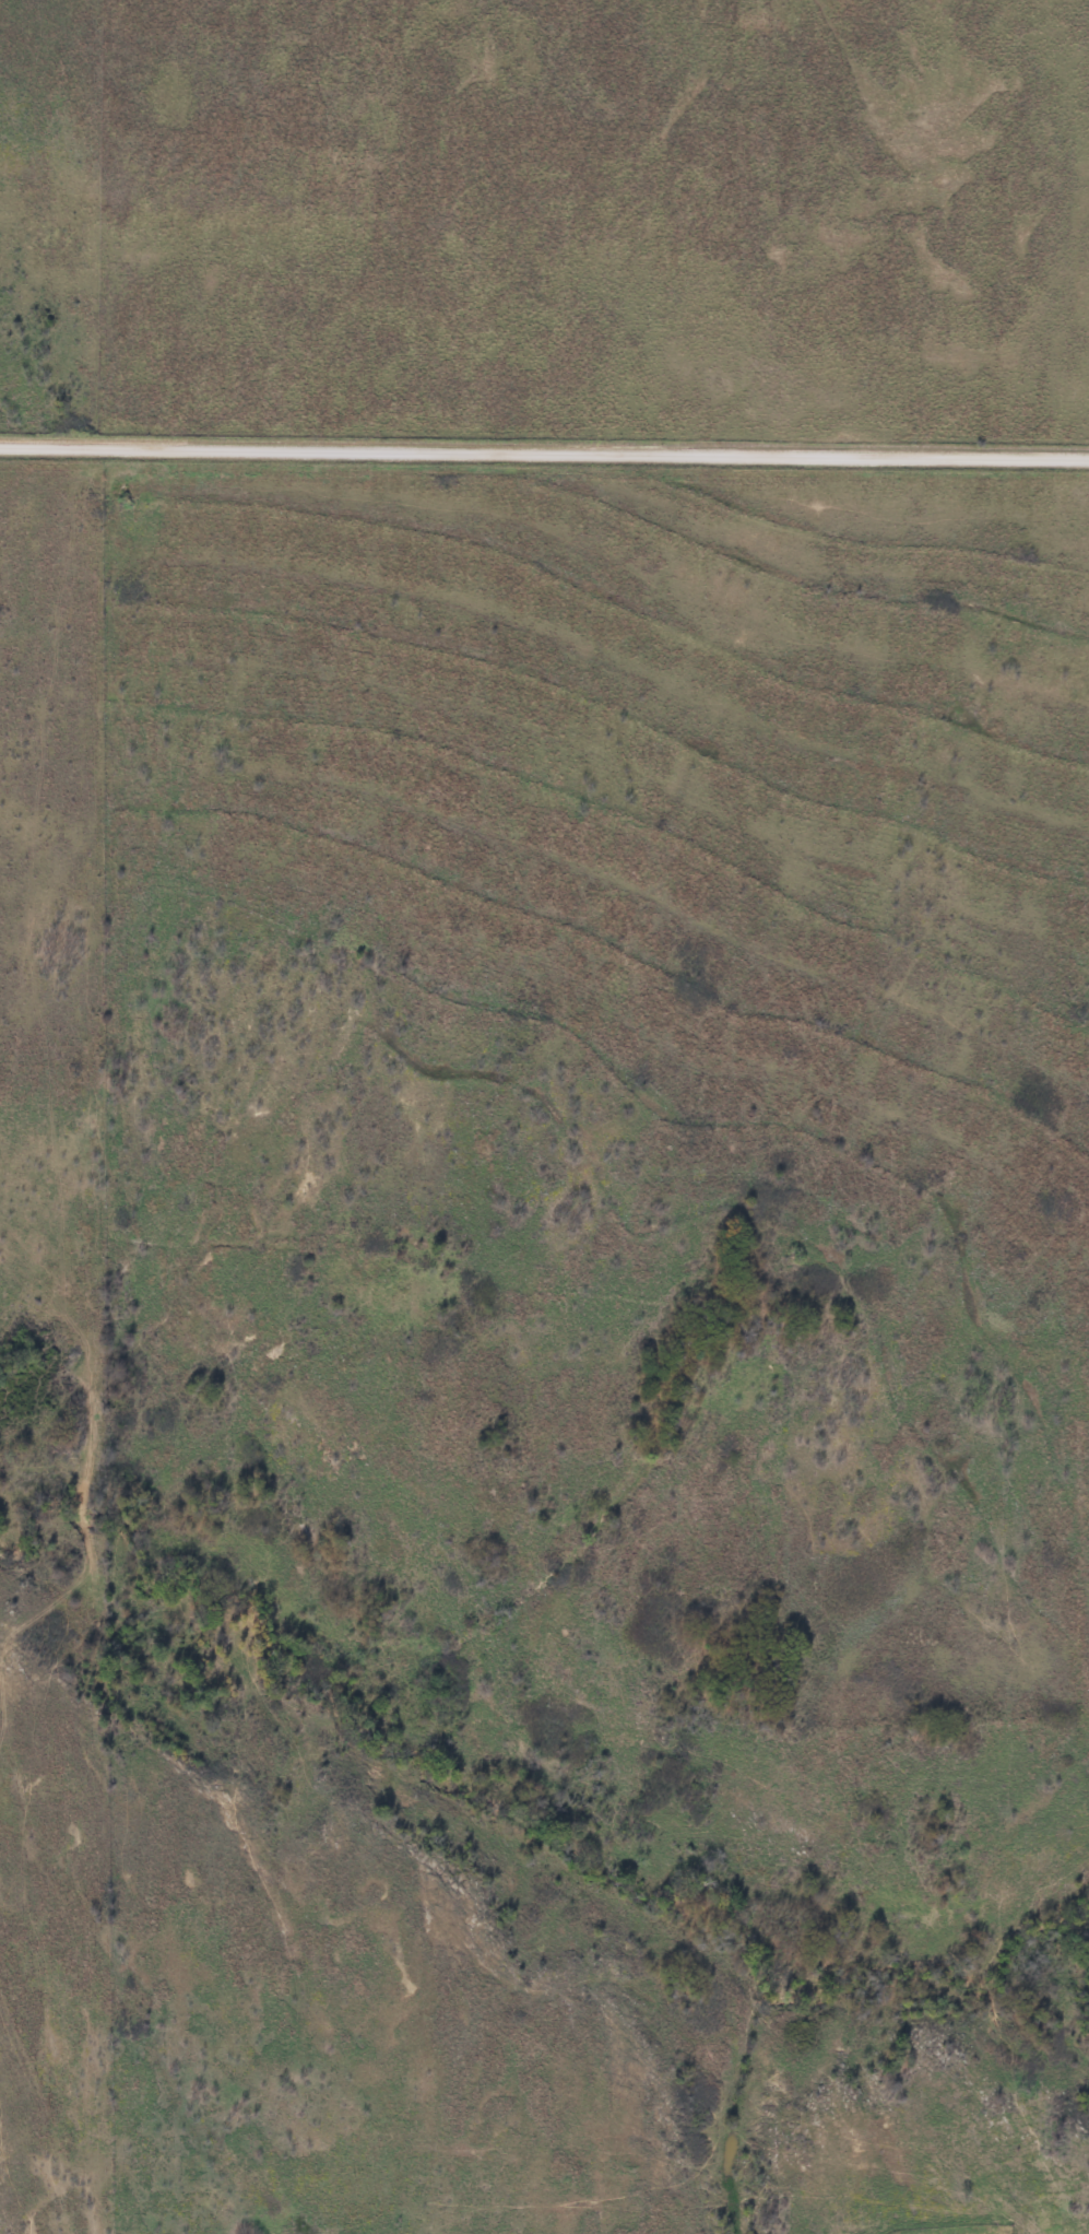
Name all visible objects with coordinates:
road: (544, 454)

